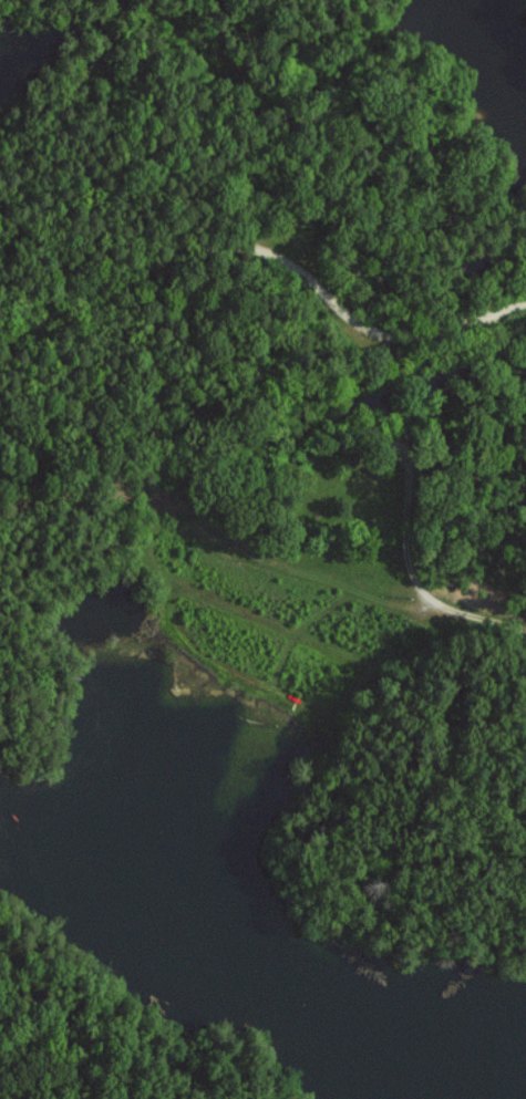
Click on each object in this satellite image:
road: (264, 258)
road: (453, 613)

